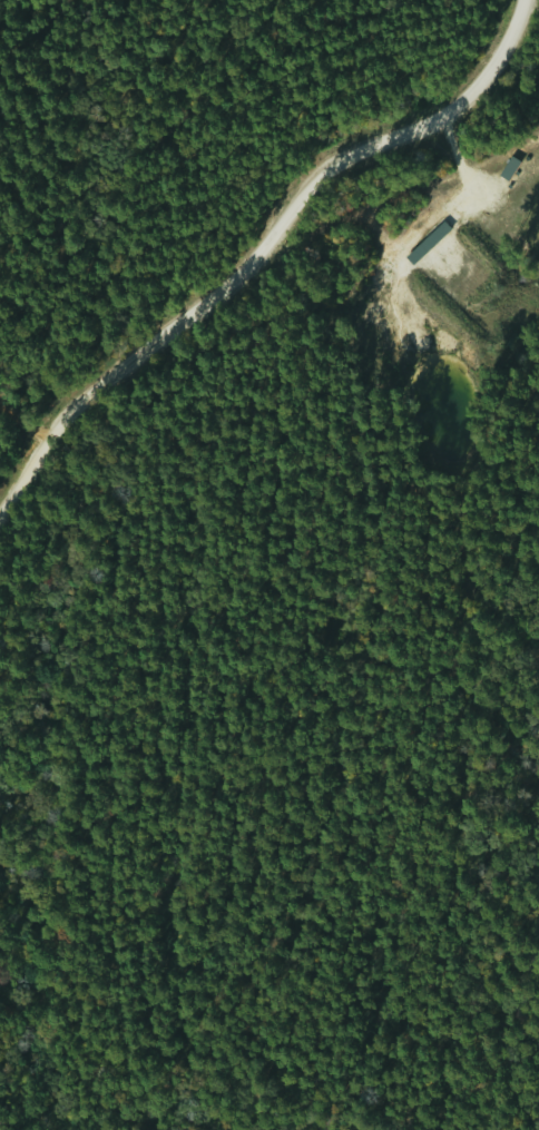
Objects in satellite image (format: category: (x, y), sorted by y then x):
road: (264, 249)

